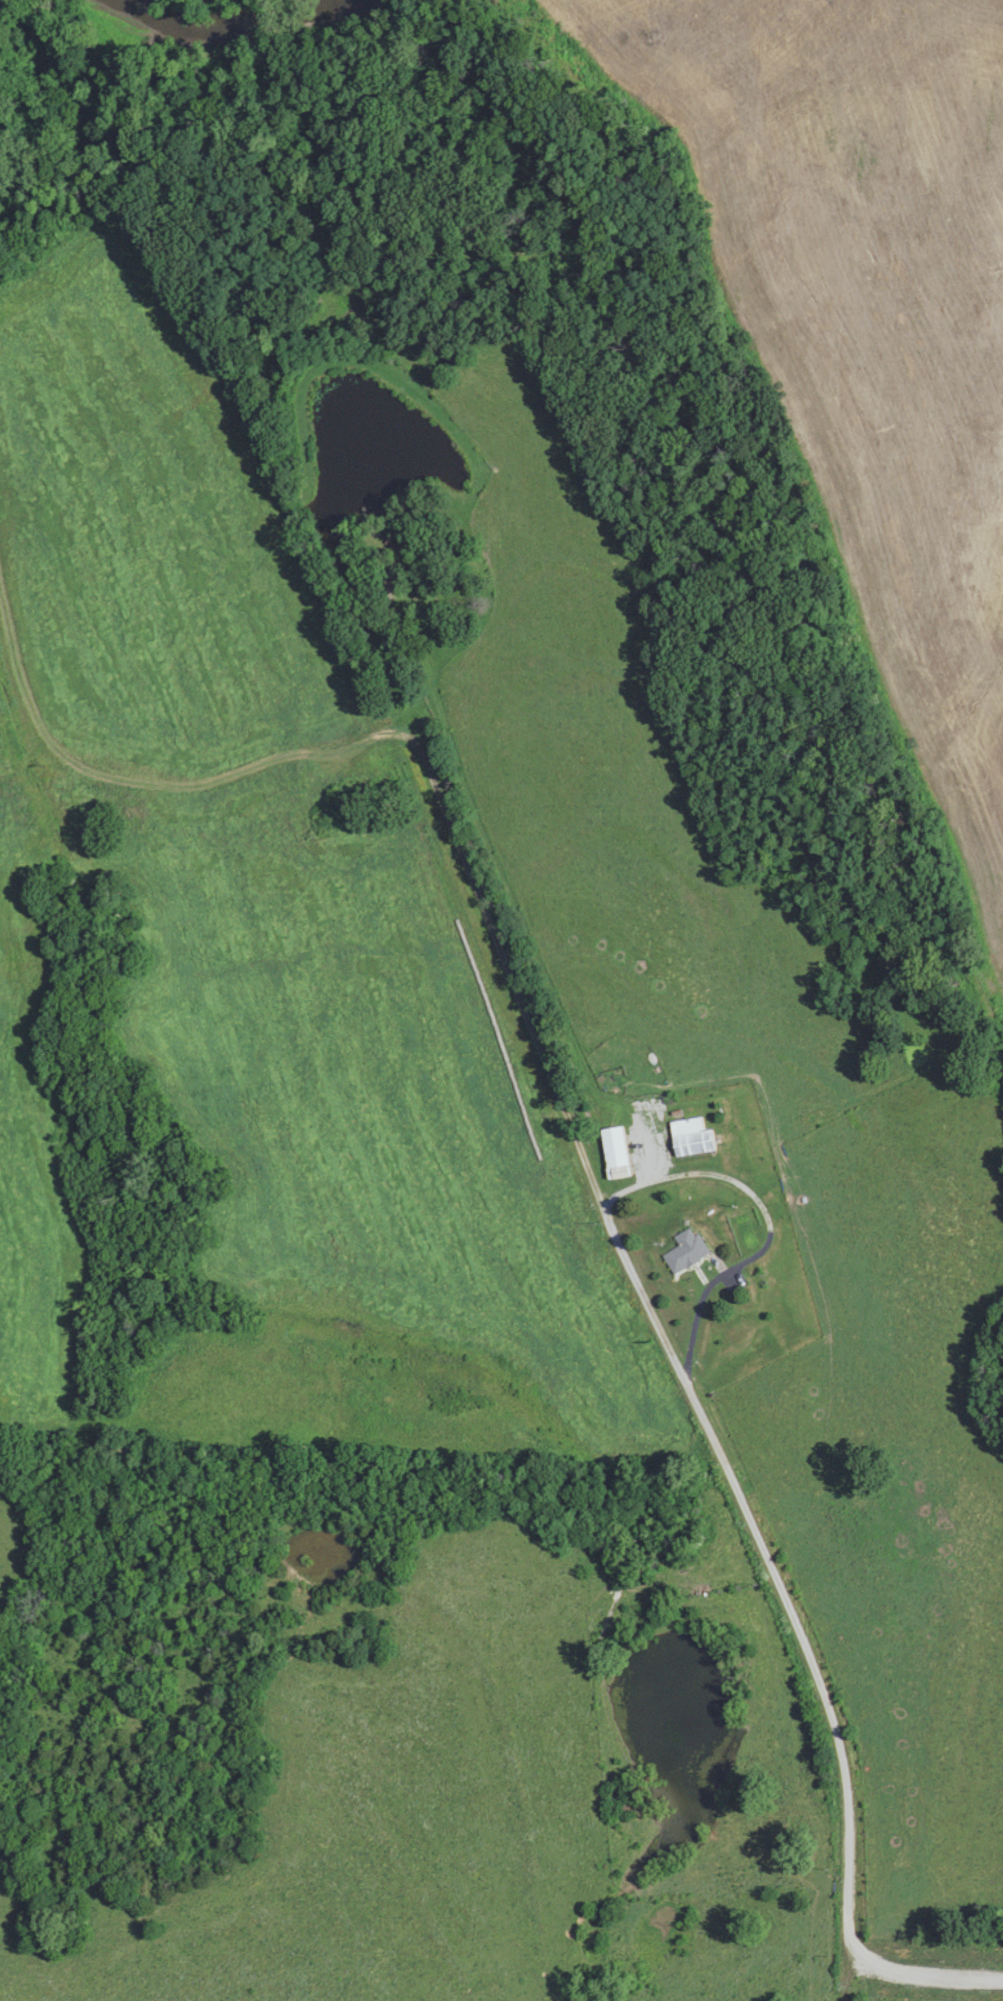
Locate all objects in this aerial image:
river: (227, 22)
building: (383, 584)
building: (690, 1137)
building: (614, 1152)
road: (768, 1228)
building: (685, 1250)
road: (663, 1338)

